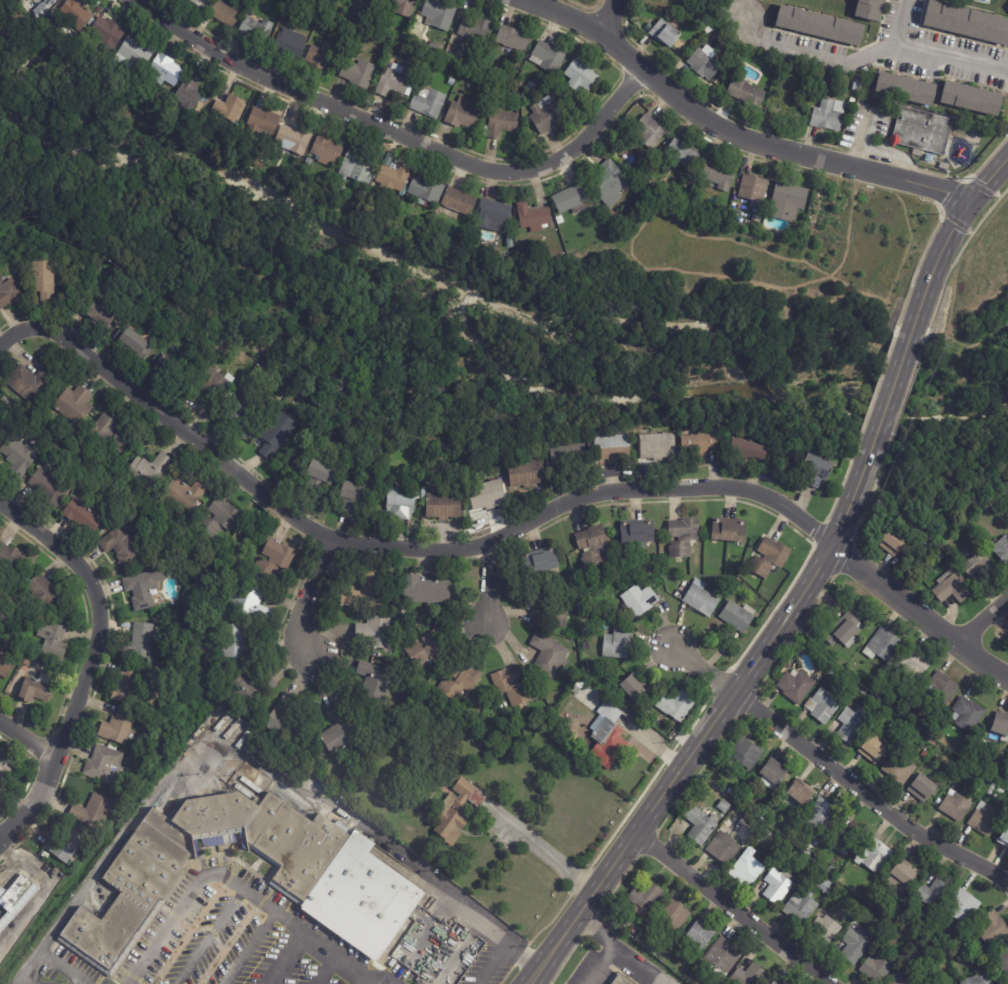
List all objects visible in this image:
building: (34, 0)
building: (368, 0)
building: (375, 0)
building: (200, 3)
building: (401, 6)
building: (289, 7)
building: (43, 8)
building: (871, 9)
building: (227, 11)
building: (76, 12)
building: (440, 14)
road: (610, 17)
building: (967, 22)
building: (820, 25)
road: (906, 26)
building: (256, 29)
building: (107, 31)
building: (666, 33)
building: (719, 35)
building: (472, 36)
building: (414, 37)
building: (513, 39)
building: (290, 44)
building: (436, 47)
building: (46, 51)
building: (136, 53)
road: (890, 54)
building: (548, 57)
building: (322, 59)
building: (704, 63)
building: (165, 70)
building: (499, 72)
building: (358, 73)
building: (581, 76)
building: (398, 79)
building: (487, 82)
building: (822, 83)
building: (544, 84)
building: (858, 85)
building: (532, 86)
building: (502, 87)
building: (906, 89)
building: (190, 90)
building: (747, 94)
building: (525, 95)
building: (972, 98)
building: (852, 101)
building: (429, 103)
building: (785, 107)
building: (229, 108)
building: (461, 114)
building: (547, 115)
building: (829, 115)
building: (262, 123)
building: (501, 124)
road: (396, 131)
building: (650, 131)
road: (730, 131)
building: (924, 131)
building: (295, 138)
building: (327, 149)
building: (918, 153)
building: (683, 156)
building: (308, 163)
building: (359, 164)
building: (945, 166)
building: (719, 175)
building: (608, 178)
building: (695, 179)
building: (393, 180)
building: (754, 190)
building: (427, 191)
building: (571, 200)
traffic signals: (975, 200)
building: (459, 202)
building: (786, 202)
building: (589, 213)
building: (493, 215)
building: (534, 217)
road: (950, 240)
building: (510, 241)
building: (44, 278)
building: (9, 293)
park: (496, 300)
building: (101, 318)
building: (134, 342)
park: (976, 348)
building: (168, 370)
building: (30, 383)
building: (204, 383)
road: (890, 398)
building: (6, 401)
building: (74, 405)
building: (247, 411)
building: (0, 430)
building: (0, 433)
building: (108, 434)
building: (277, 435)
building: (704, 447)
building: (660, 448)
building: (614, 449)
building: (752, 451)
building: (570, 453)
building: (18, 454)
building: (820, 468)
building: (149, 472)
building: (528, 474)
building: (320, 477)
building: (48, 488)
building: (184, 495)
building: (488, 496)
building: (354, 497)
building: (402, 504)
building: (443, 506)
building: (84, 517)
building: (219, 519)
building: (729, 531)
building: (638, 532)
building: (683, 538)
building: (893, 543)
road: (390, 545)
building: (123, 546)
building: (592, 547)
building: (1001, 549)
building: (941, 557)
building: (276, 558)
building: (770, 558)
building: (11, 561)
building: (543, 562)
building: (979, 565)
road: (482, 588)
building: (953, 588)
building: (145, 590)
building: (426, 591)
building: (46, 592)
building: (365, 594)
building: (701, 599)
road: (307, 600)
building: (640, 601)
building: (250, 604)
building: (547, 611)
road: (919, 612)
building: (738, 617)
road: (984, 620)
building: (607, 626)
building: (844, 631)
building: (41, 632)
building: (376, 634)
building: (141, 642)
building: (53, 644)
building: (235, 644)
building: (618, 645)
building: (584, 646)
building: (883, 646)
building: (430, 651)
building: (549, 656)
road: (89, 663)
building: (28, 664)
building: (915, 664)
building: (5, 665)
building: (821, 666)
building: (151, 669)
road: (706, 671)
building: (830, 672)
building: (575, 675)
building: (896, 676)
building: (870, 680)
building: (374, 683)
building: (461, 683)
building: (270, 685)
building: (580, 685)
building: (126, 687)
building: (512, 687)
building: (796, 687)
building: (942, 688)
building: (633, 689)
building: (37, 690)
building: (250, 690)
building: (925, 698)
building: (825, 704)
building: (635, 706)
building: (677, 706)
building: (968, 713)
building: (285, 720)
building: (852, 722)
building: (1001, 725)
building: (118, 728)
building: (341, 732)
road: (714, 733)
building: (608, 737)
road: (26, 741)
building: (875, 747)
building: (747, 752)
building: (924, 753)
road: (243, 761)
building: (104, 765)
building: (900, 768)
building: (6, 770)
building: (774, 773)
building: (923, 787)
building: (979, 787)
building: (992, 789)
building: (465, 790)
building: (1003, 790)
building: (708, 791)
building: (802, 793)
building: (999, 797)
road: (869, 798)
building: (724, 806)
building: (956, 806)
building: (92, 813)
building: (822, 815)
building: (794, 819)
building: (986, 819)
building: (452, 820)
building: (701, 824)
building: (765, 835)
building: (1004, 838)
building: (848, 839)
building: (64, 846)
building: (724, 847)
building: (811, 851)
road: (544, 852)
building: (875, 855)
building: (748, 867)
road: (7, 868)
building: (830, 871)
building: (902, 875)
road: (235, 883)
building: (823, 883)
building: (779, 885)
building: (145, 887)
road: (45, 888)
building: (934, 894)
building: (364, 897)
building: (876, 897)
building: (645, 898)
building: (15, 901)
building: (802, 905)
building: (896, 906)
building: (965, 906)
road: (733, 909)
building: (674, 914)
building: (893, 914)
building: (879, 917)
building: (886, 922)
building: (626, 925)
building: (993, 929)
building: (633, 930)
building: (826, 930)
building: (701, 935)
building: (395, 941)
building: (858, 944)
road: (625, 949)
road: (283, 959)
building: (720, 959)
road: (492, 961)
building: (689, 961)
road: (600, 963)
building: (940, 963)
building: (1004, 964)
building: (880, 966)
building: (750, 975)
building: (907, 977)
building: (980, 977)
building: (620, 980)
road: (361, 982)
building: (777, 982)
building: (771, 983)

